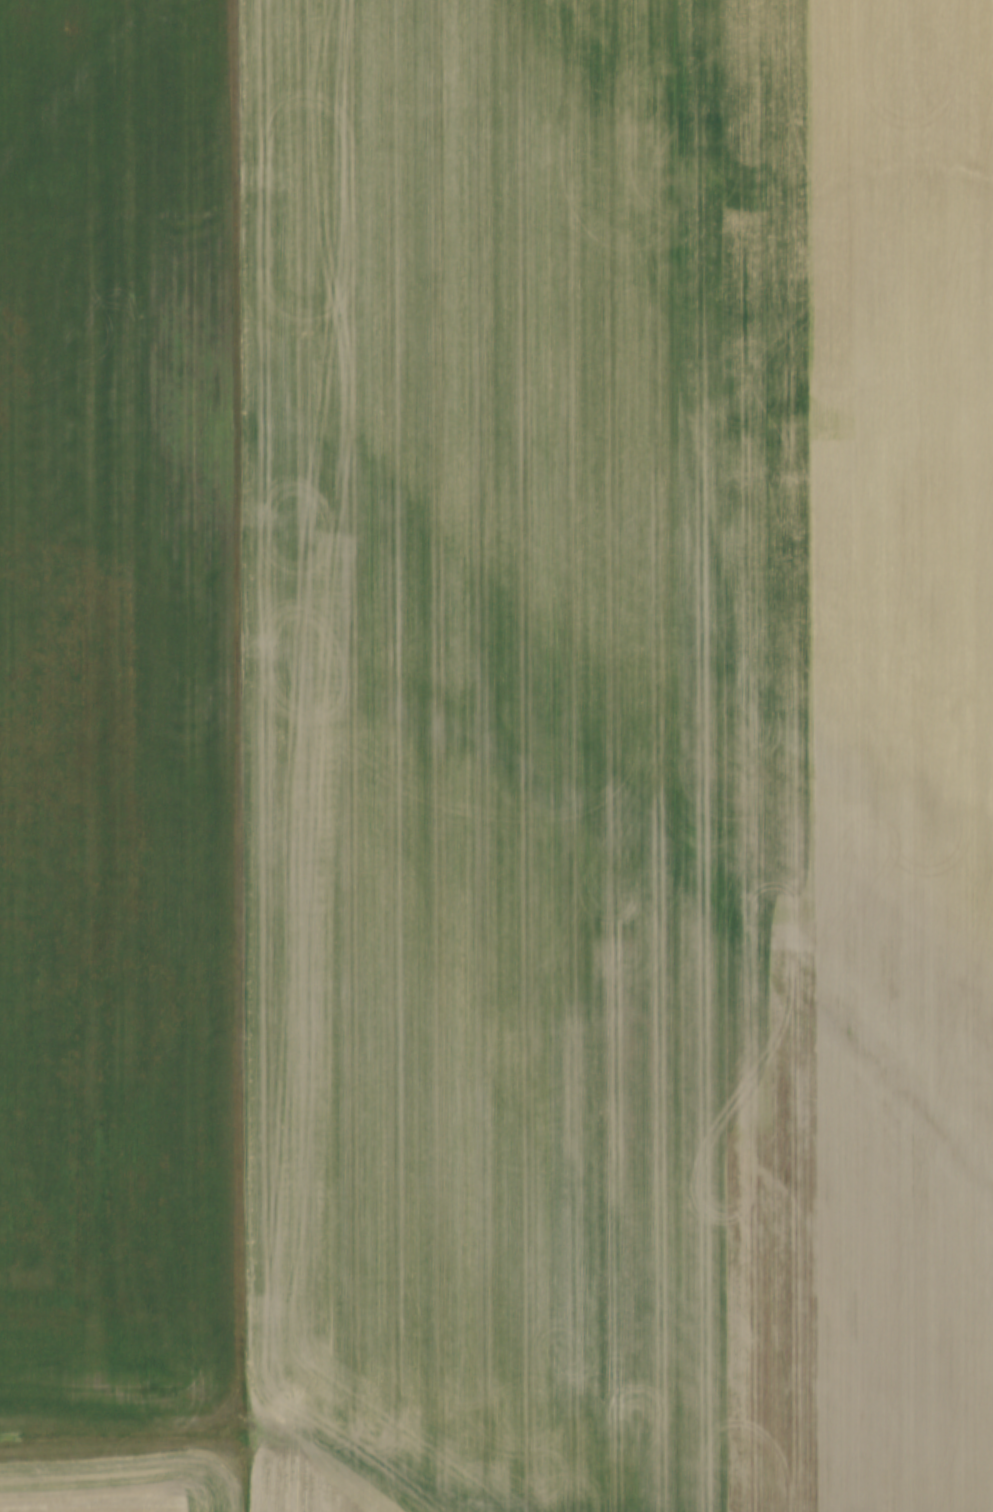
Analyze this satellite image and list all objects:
road: (139, 1455)

